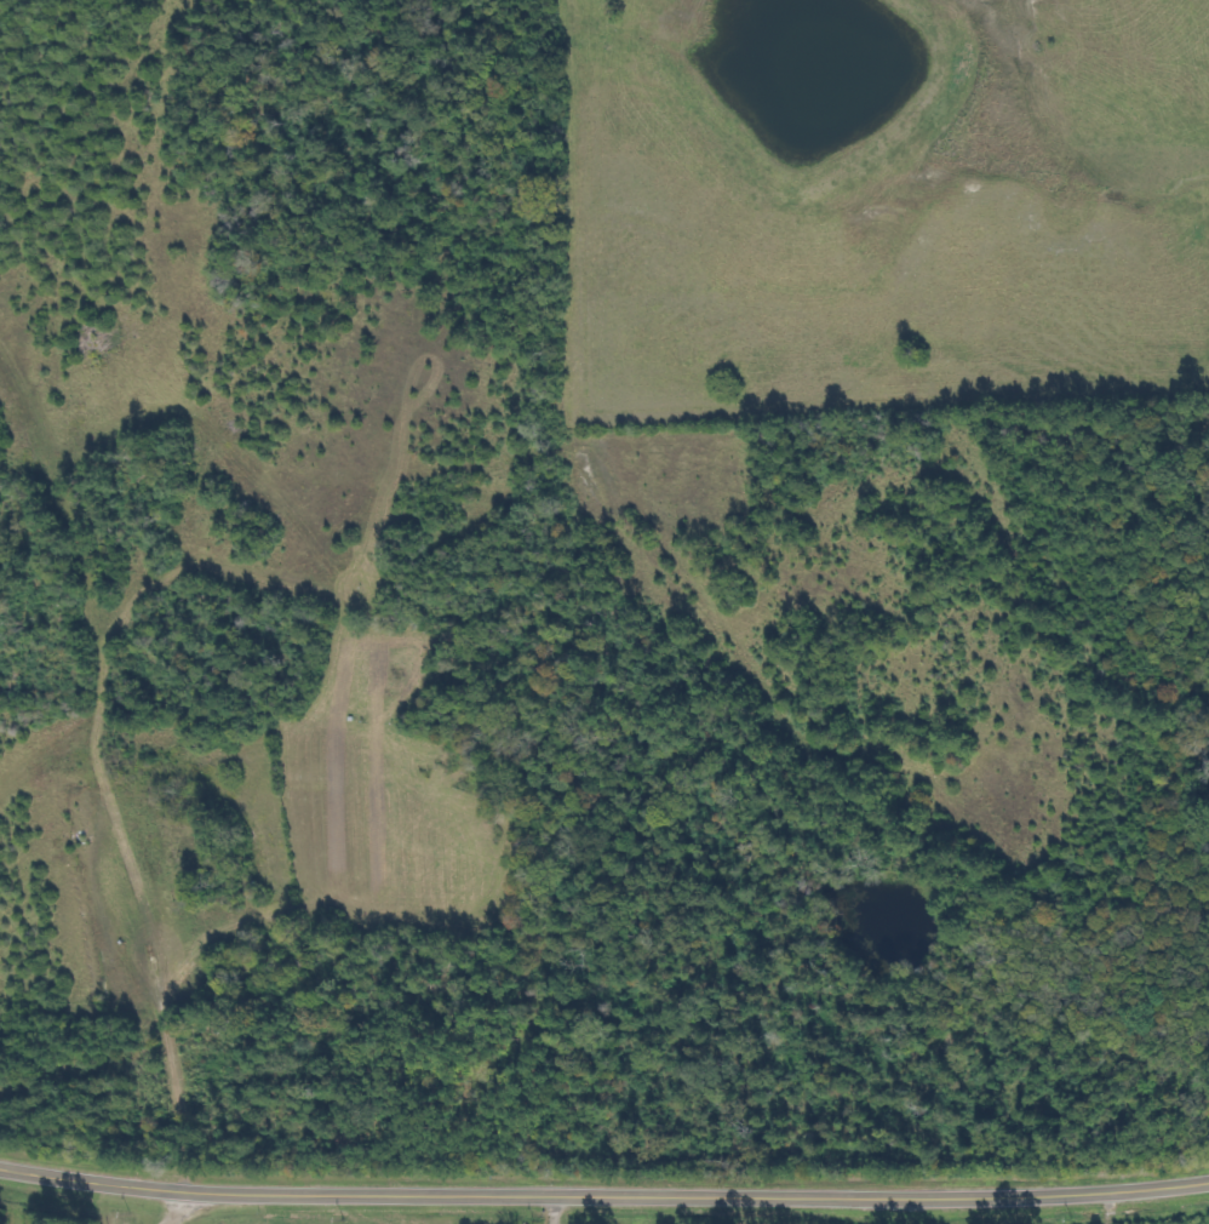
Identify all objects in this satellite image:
road: (603, 1197)
road: (183, 1208)
road: (557, 1209)

